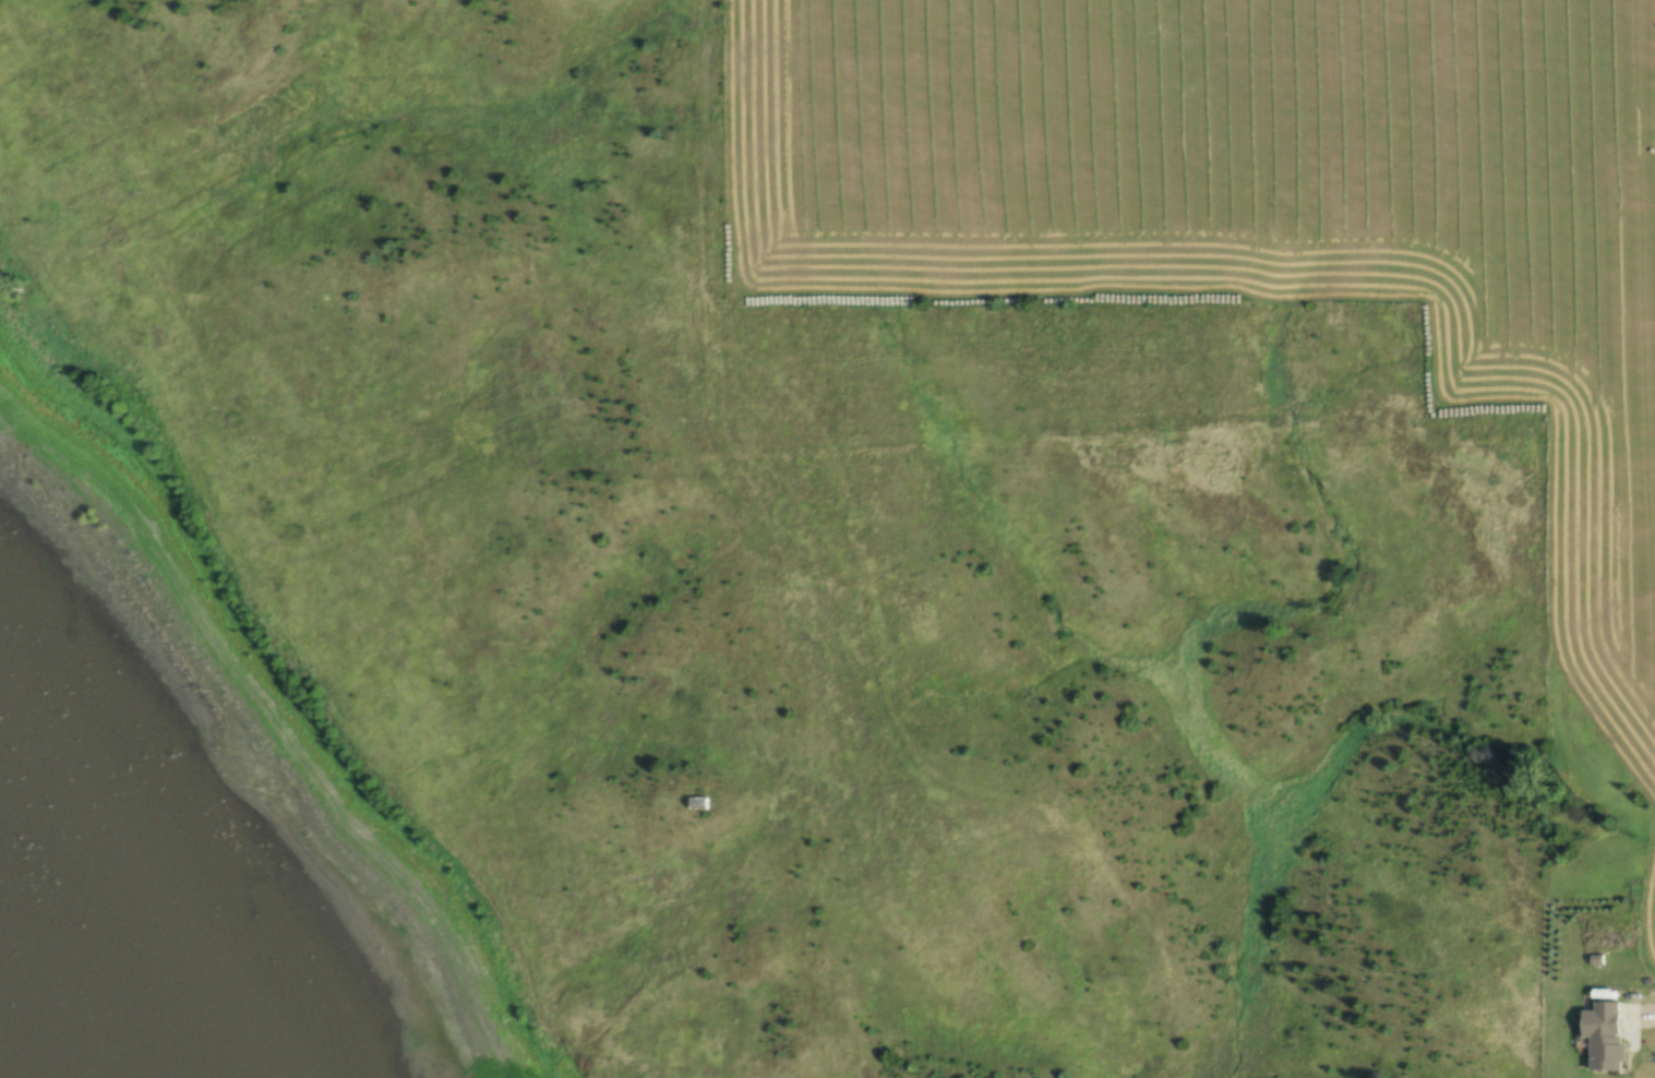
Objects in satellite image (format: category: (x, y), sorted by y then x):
building: (701, 803)
building: (1609, 1034)

